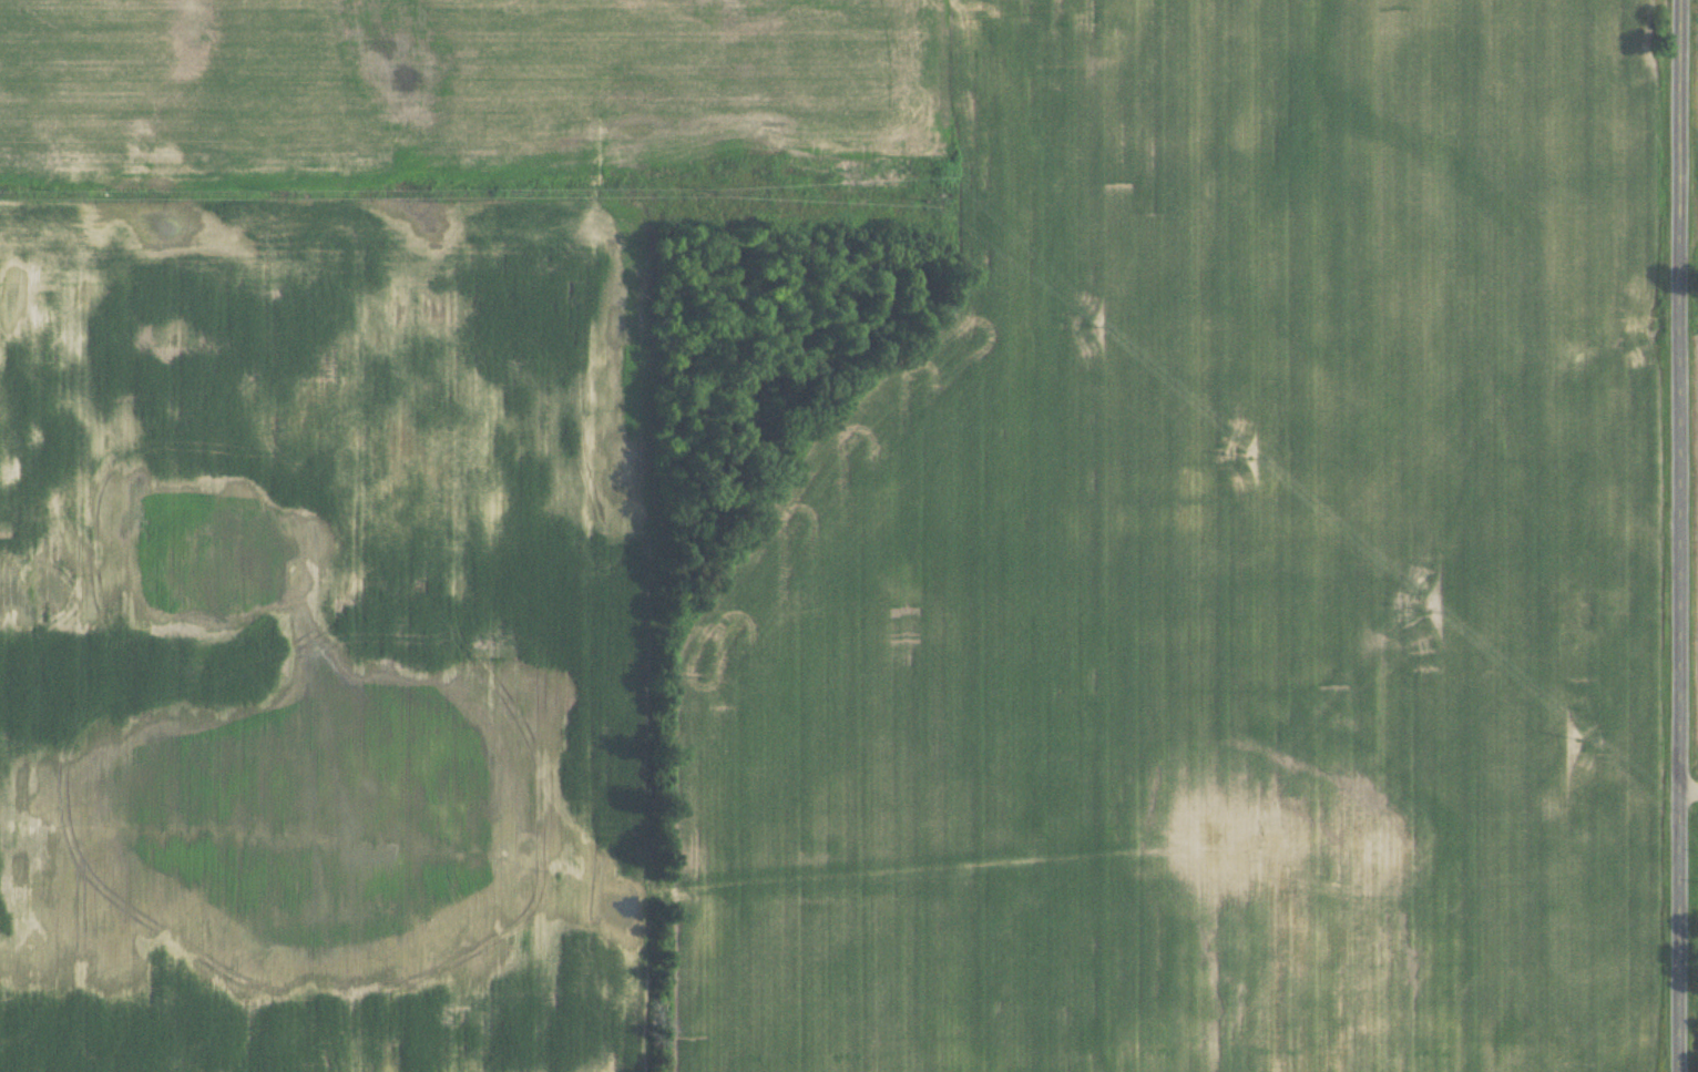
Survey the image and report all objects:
road: (1681, 535)

